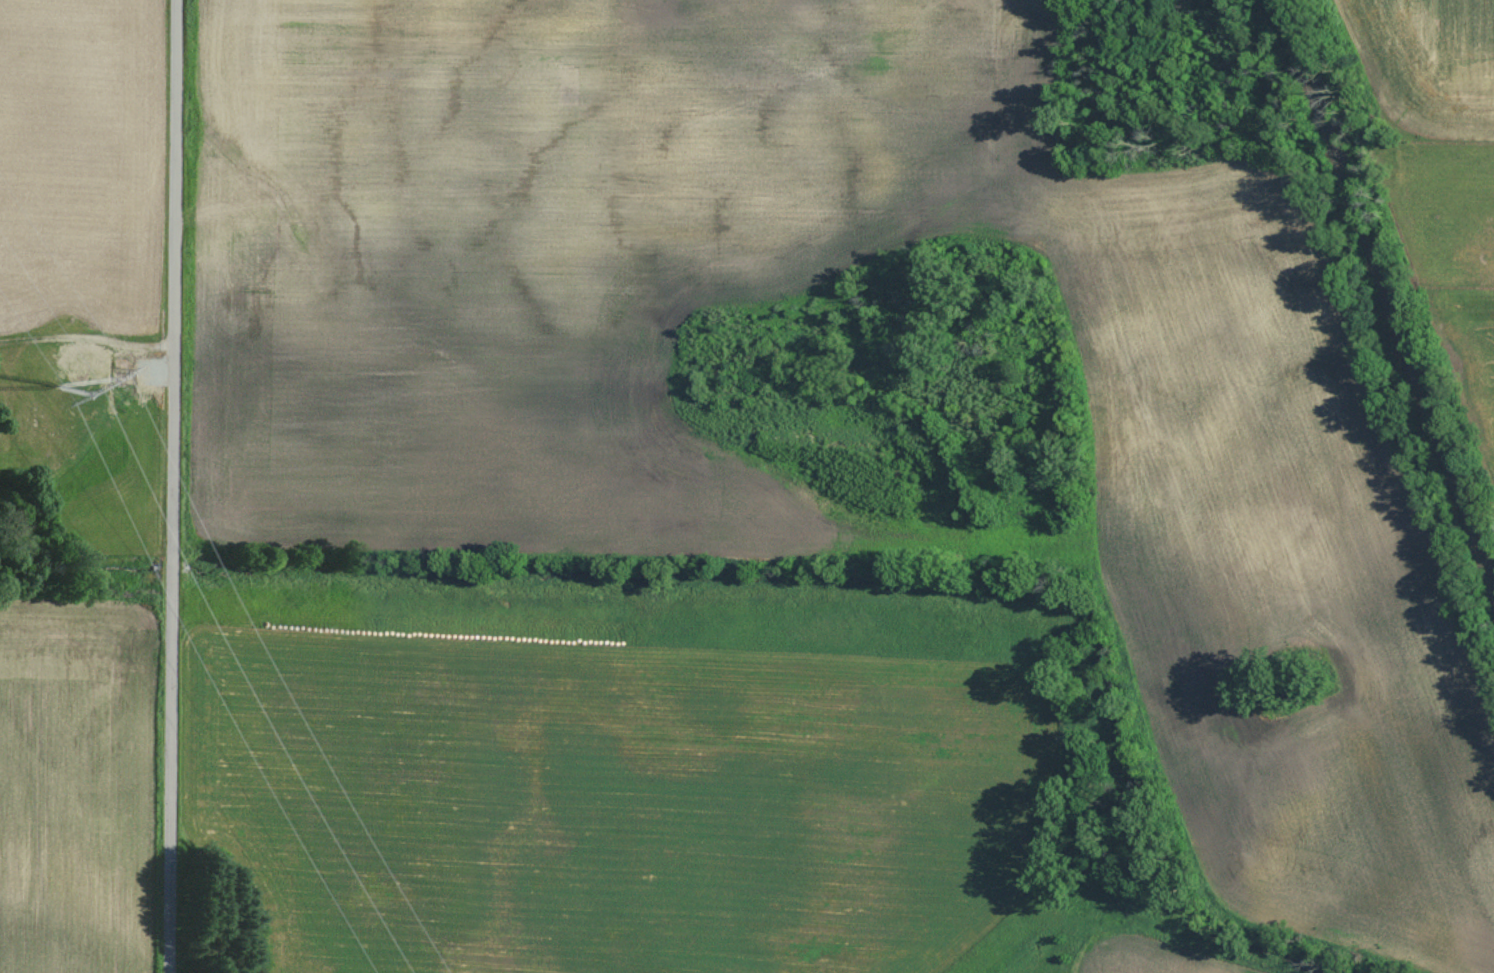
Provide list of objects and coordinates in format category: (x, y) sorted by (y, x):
railway: (1393, 275)
power tower: (62, 386)
road: (95, 419)
road: (171, 486)

